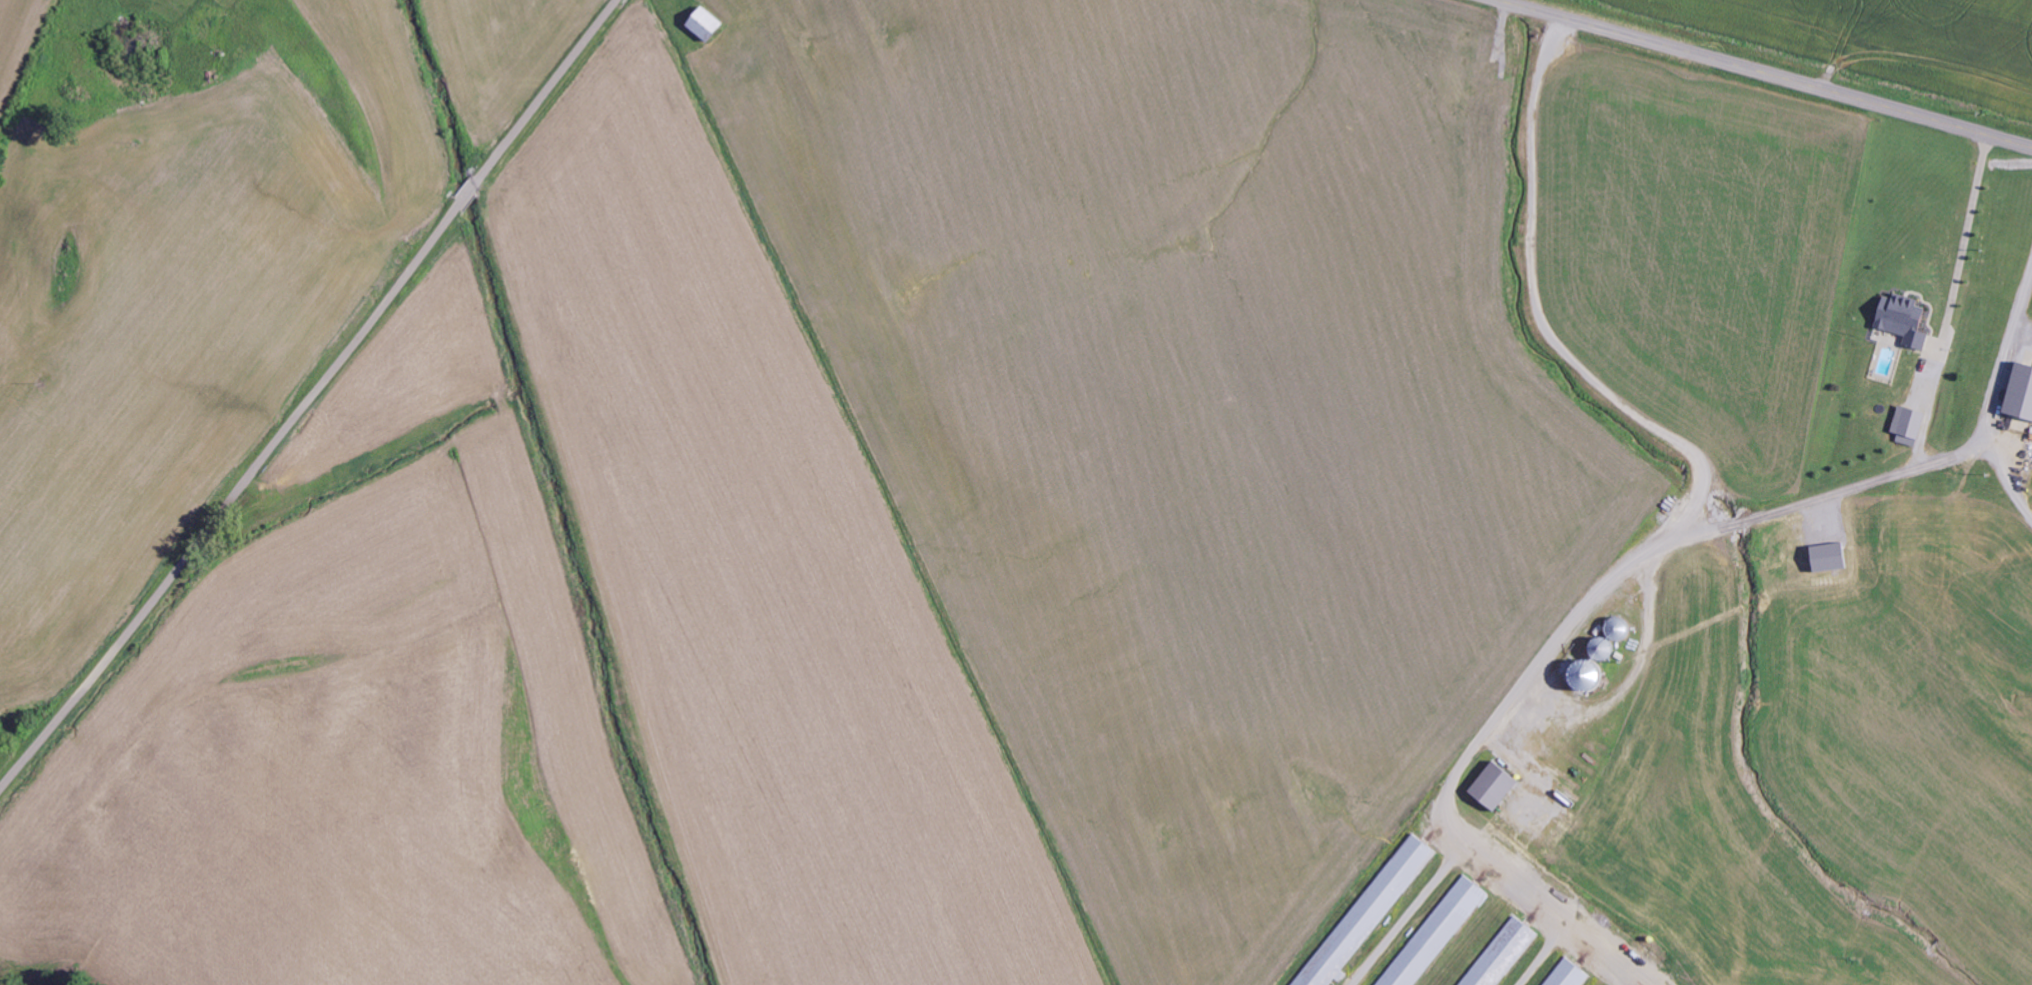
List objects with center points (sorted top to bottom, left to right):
building: (710, 26)
road: (1766, 72)
building: (1909, 319)
building: (2021, 390)
road: (312, 397)
building: (1912, 425)
road: (1914, 576)
building: (1604, 658)
building: (1499, 785)
building: (1371, 910)
building: (1437, 932)
building: (1502, 952)

